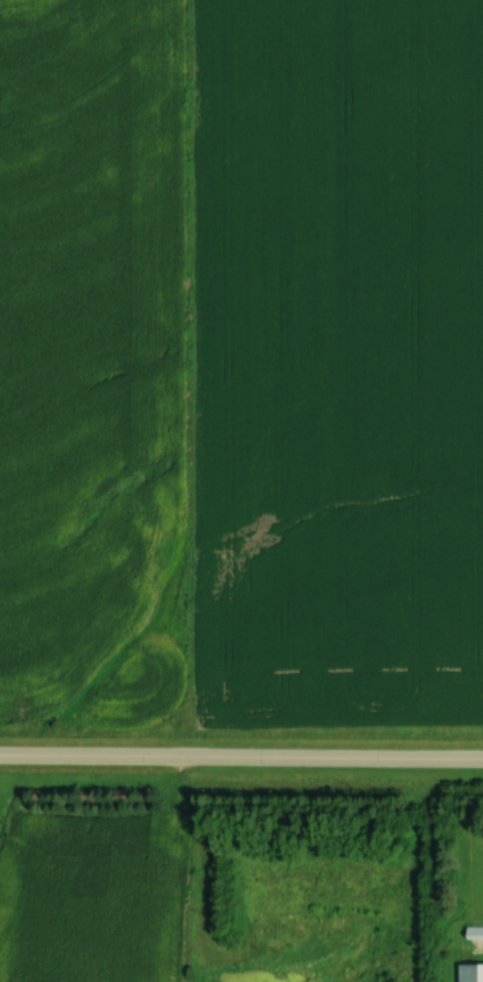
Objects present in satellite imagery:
road: (241, 755)
building: (470, 972)

